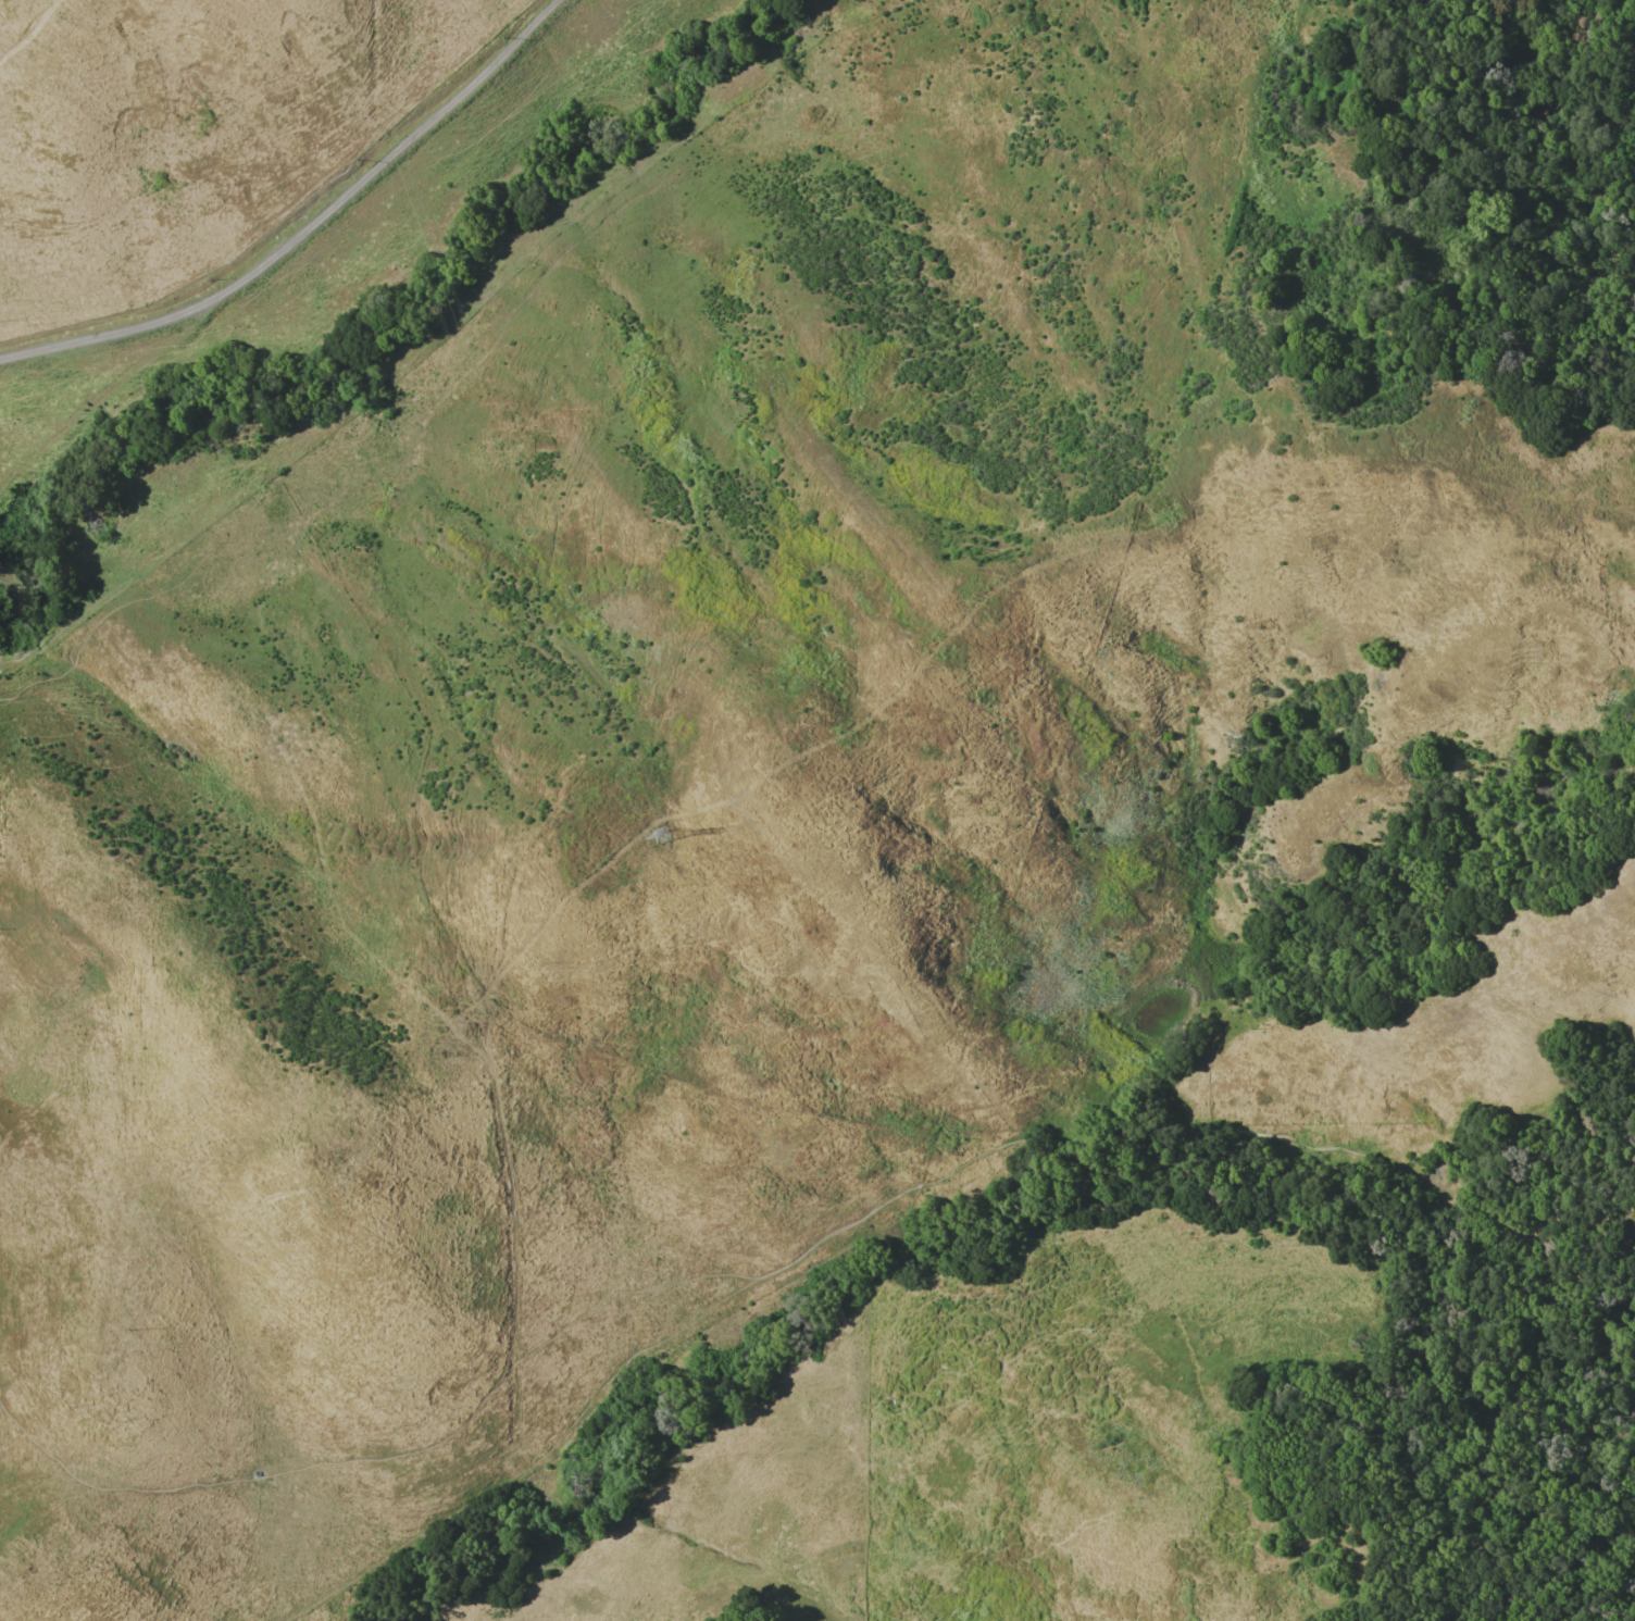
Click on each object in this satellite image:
road: (305, 227)
road: (104, 390)
road: (0, 637)
power tower: (659, 838)
road: (908, 1186)
road: (412, 1441)

